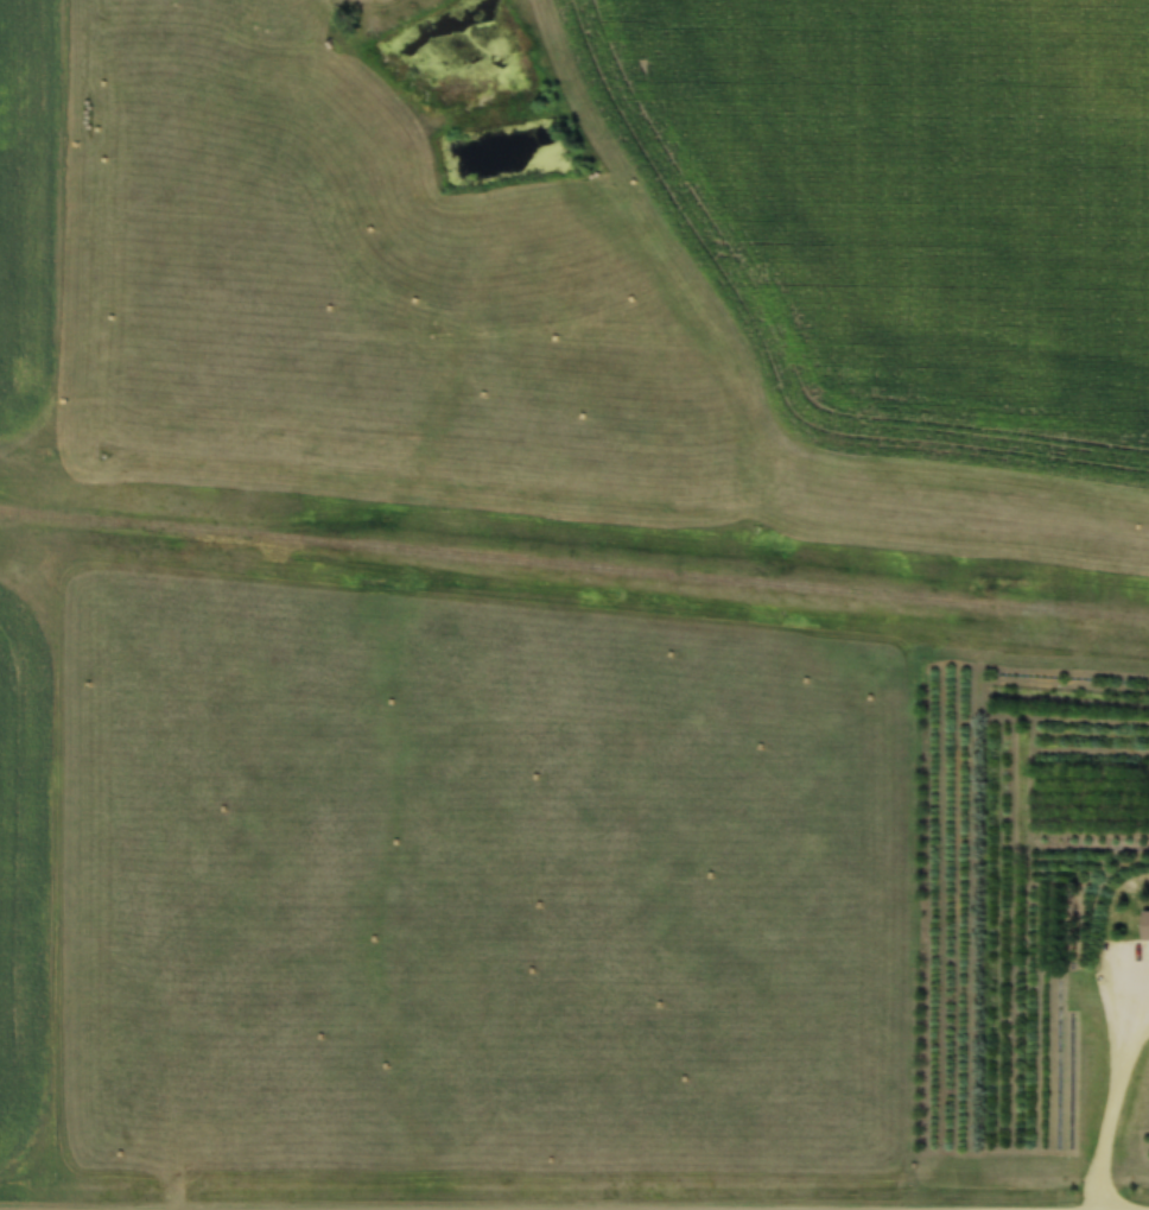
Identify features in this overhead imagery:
railway: (574, 551)
building: (1145, 927)
road: (1112, 1090)

